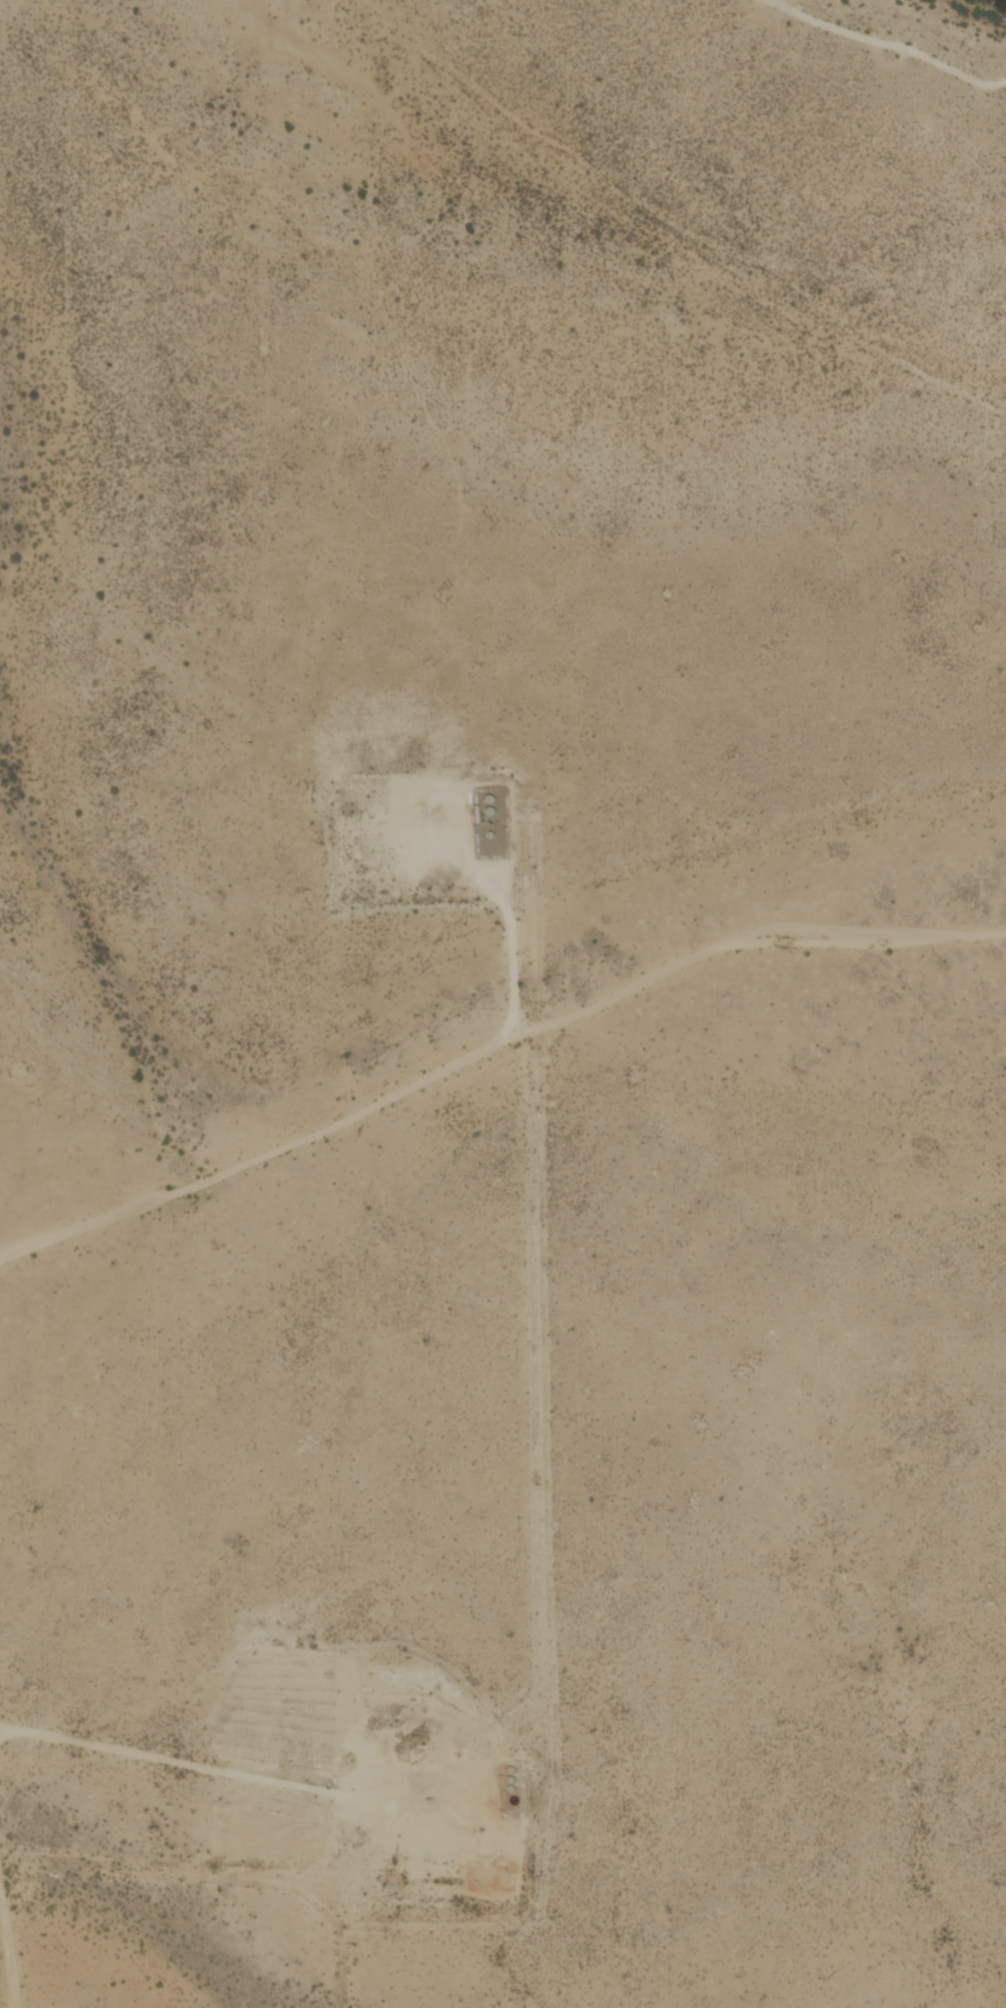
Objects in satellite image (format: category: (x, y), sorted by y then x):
road: (882, 43)
road: (504, 893)
road: (492, 1050)
road: (167, 1760)
road: (7, 1955)

